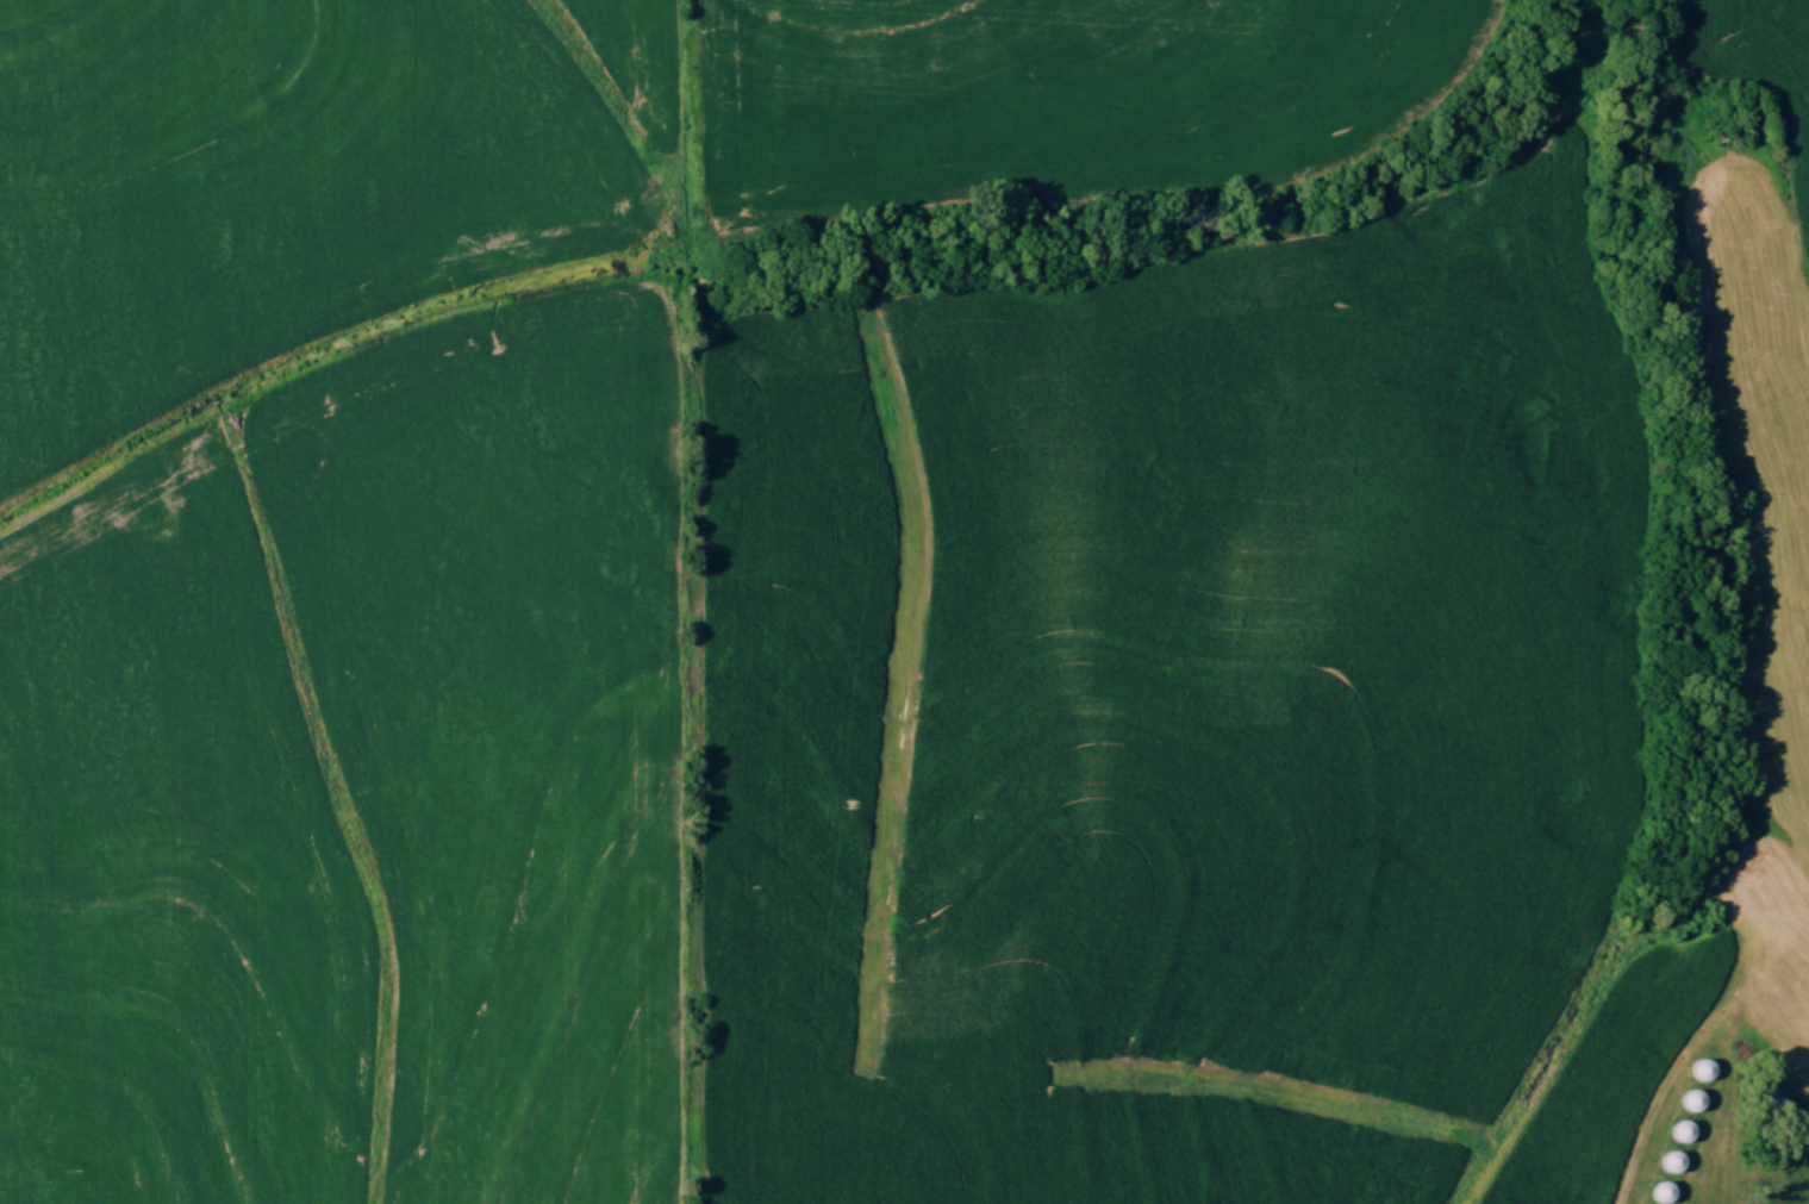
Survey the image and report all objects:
building: (1703, 1069)
building: (1693, 1102)
building: (1684, 1131)
building: (1674, 1162)
building: (1665, 1193)

